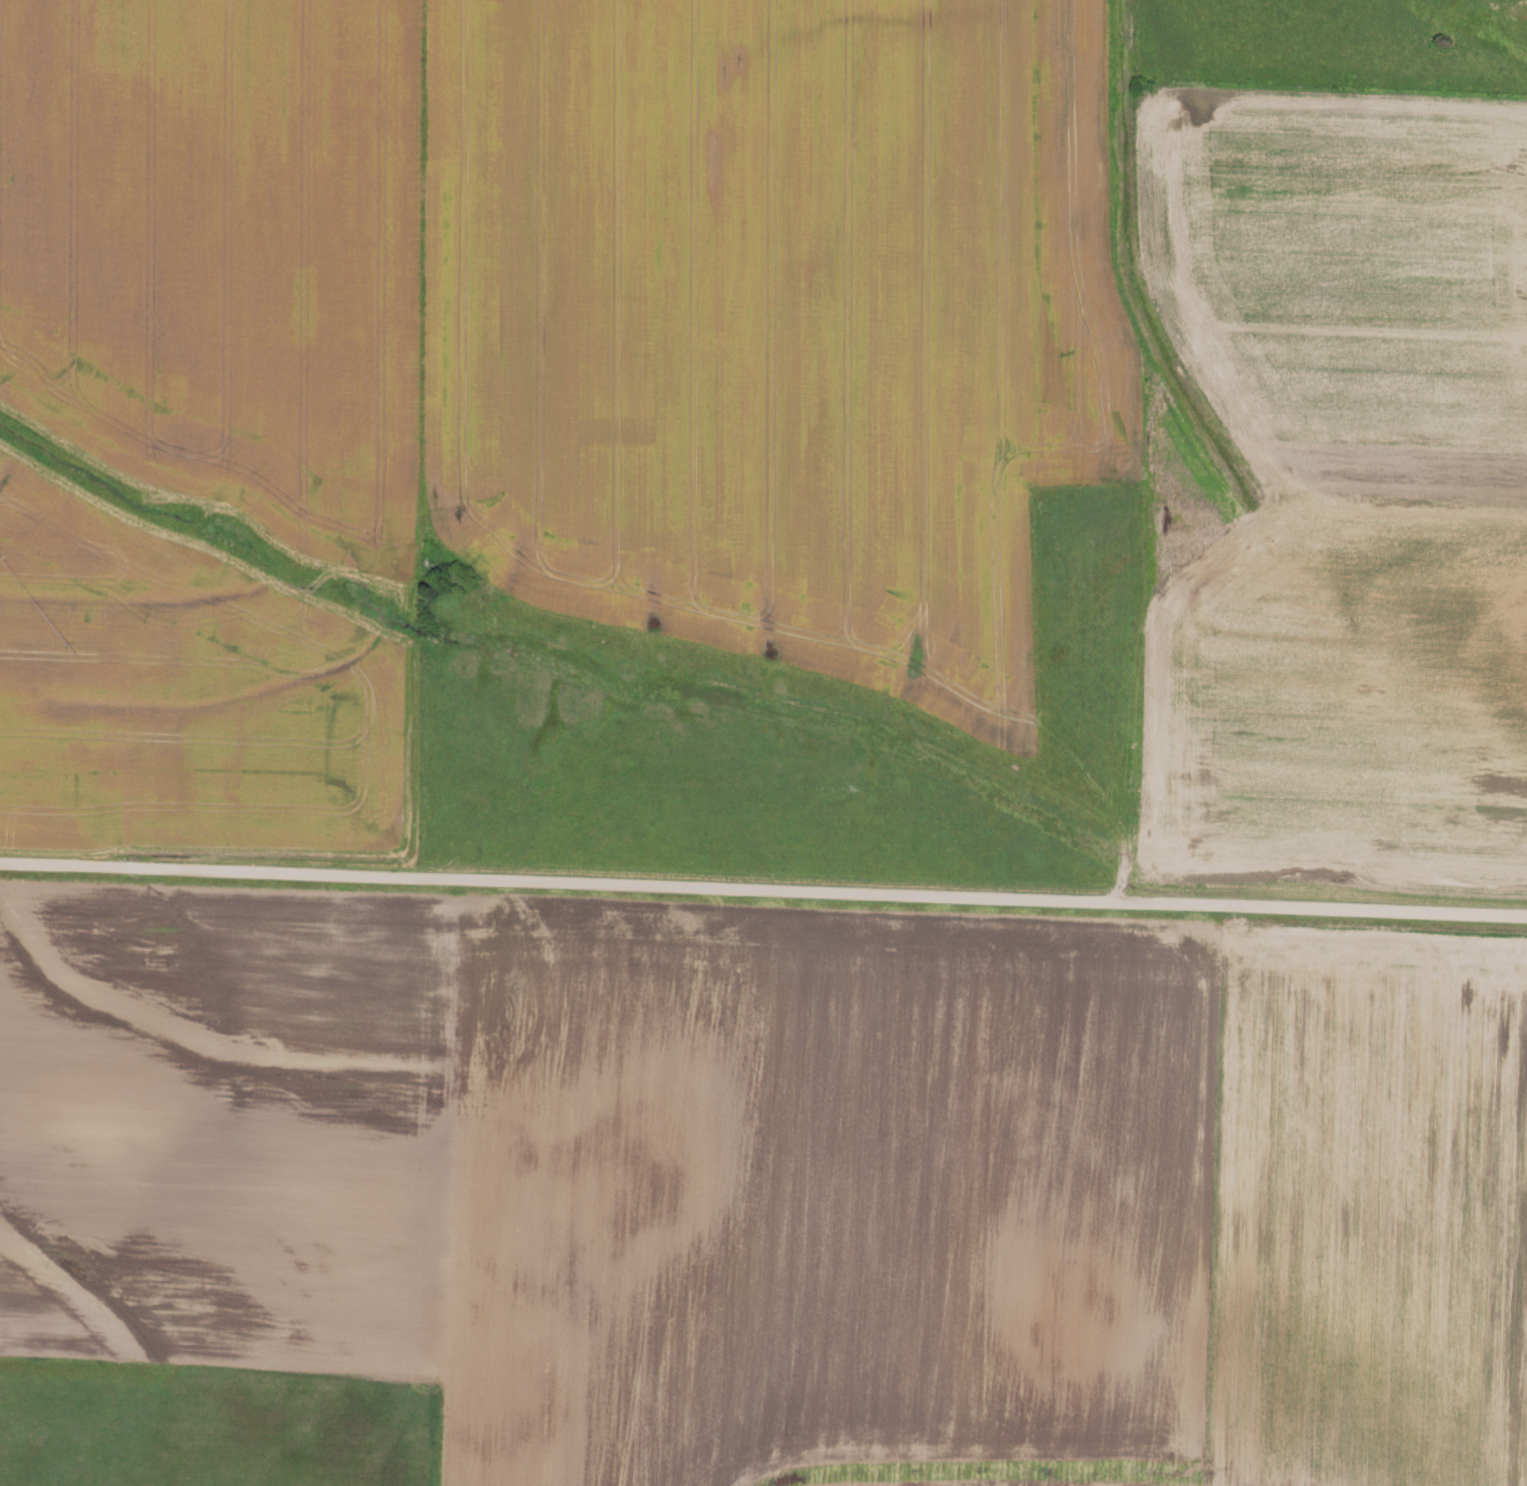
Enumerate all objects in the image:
road: (763, 889)

